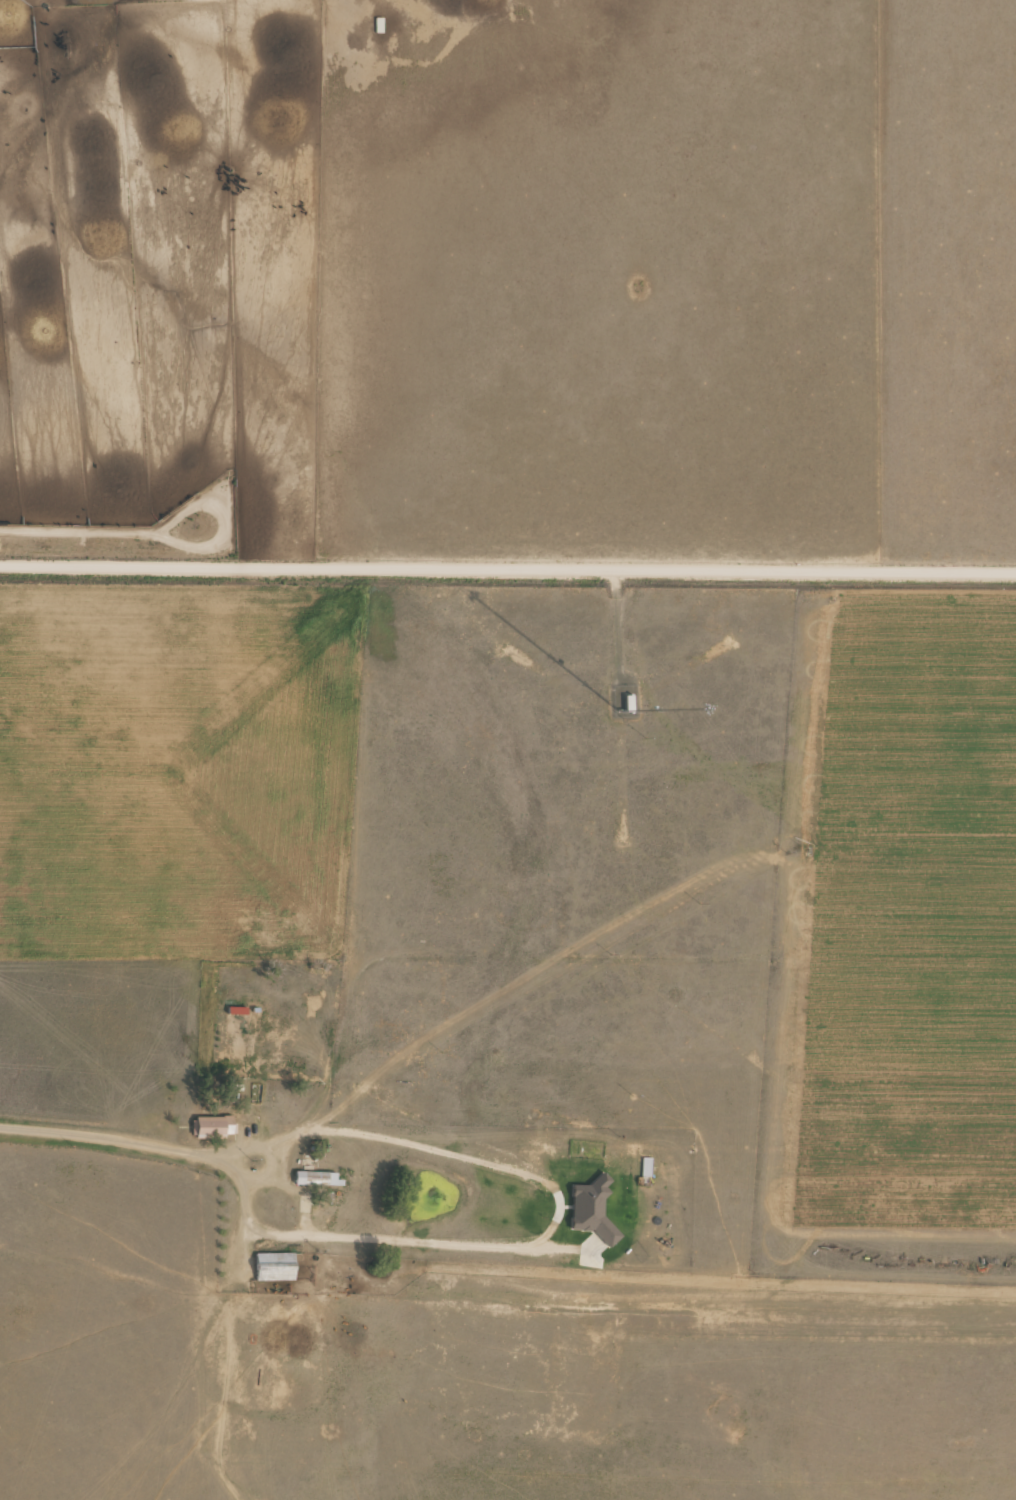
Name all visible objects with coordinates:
road: (508, 568)
building: (212, 1127)
road: (131, 1179)
building: (316, 1180)
building: (274, 1267)

